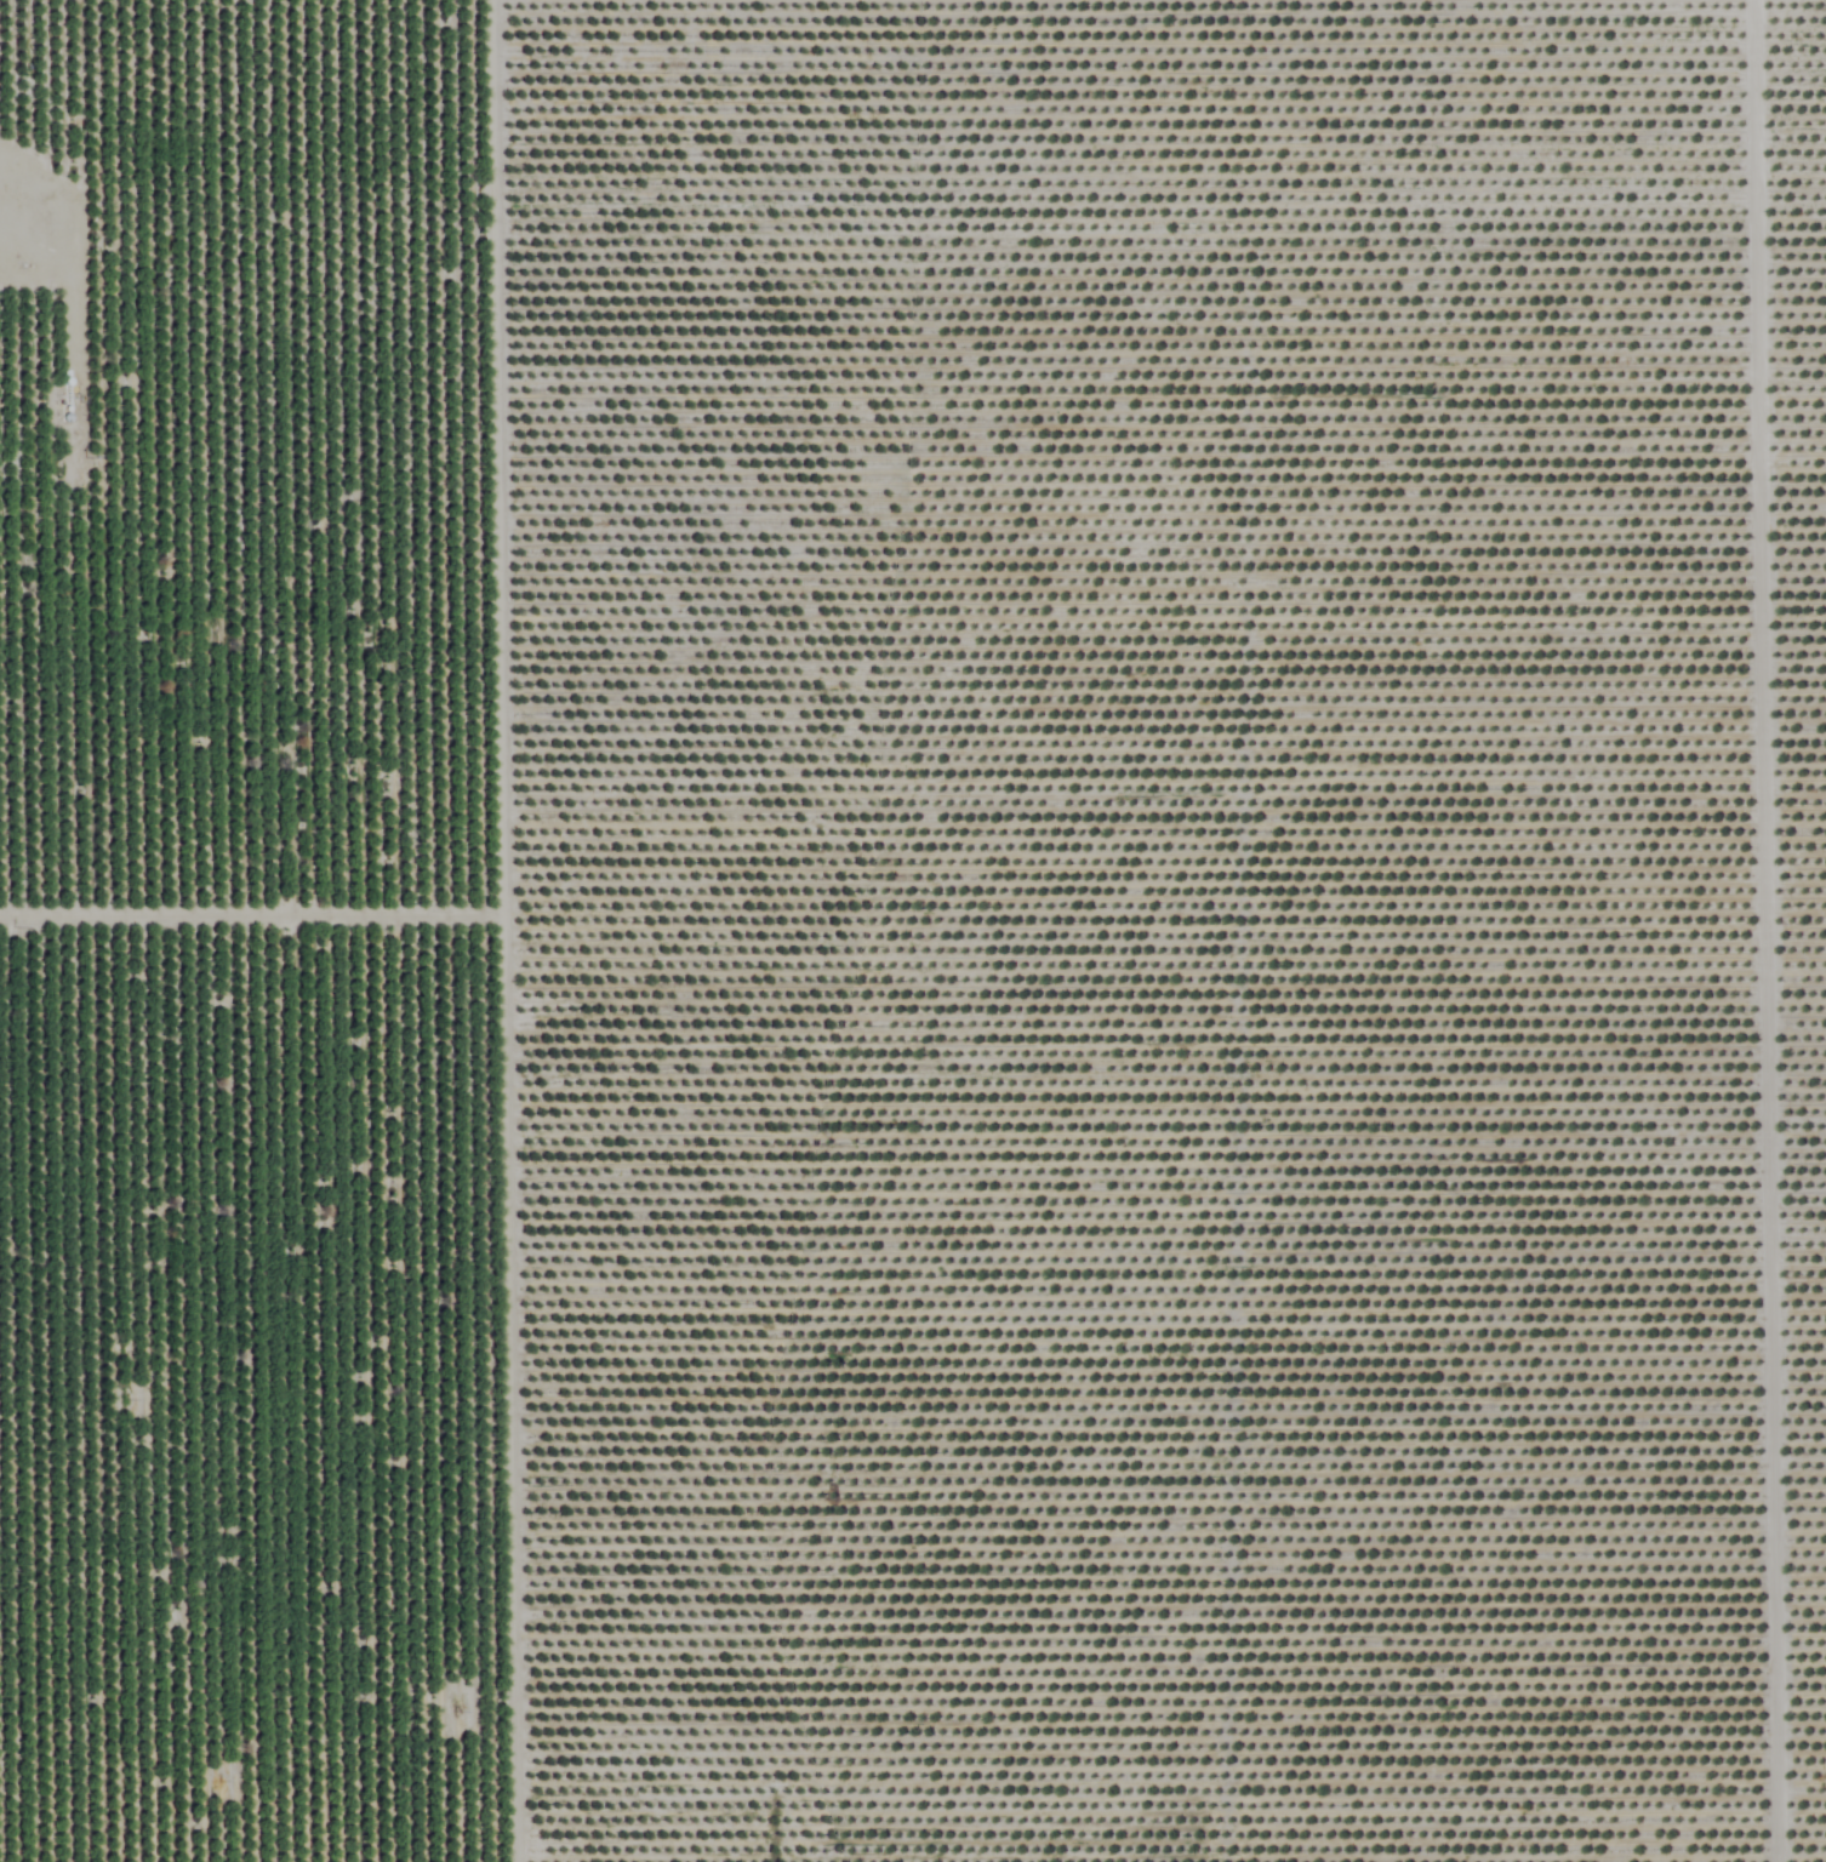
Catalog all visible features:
road: (35, 252)
crop: (913, 931)

